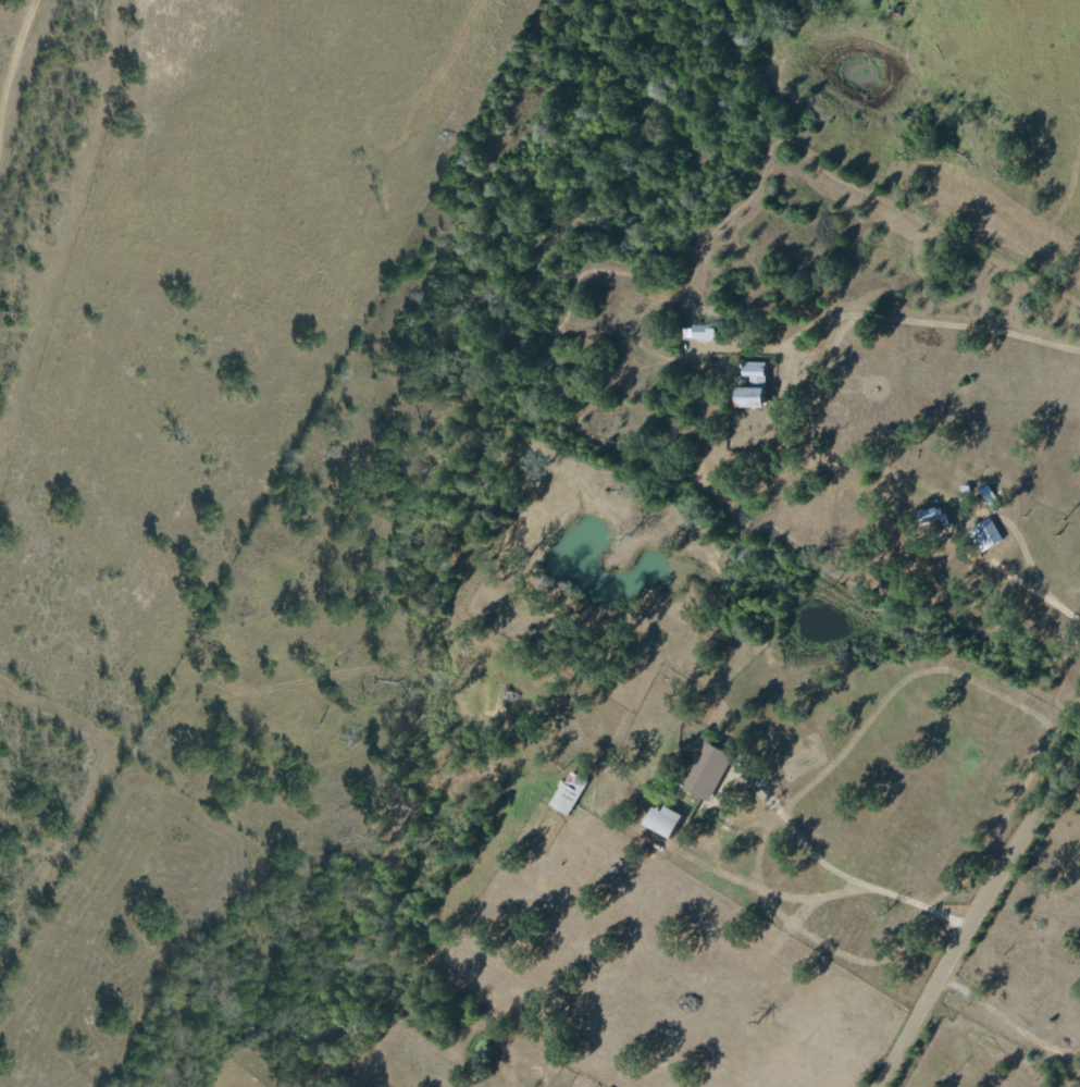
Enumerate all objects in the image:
road: (53, 102)
road: (927, 323)
building: (702, 332)
building: (748, 385)
building: (931, 515)
building: (984, 534)
road: (1033, 595)
building: (704, 771)
building: (659, 820)
road: (868, 886)
road: (991, 912)

